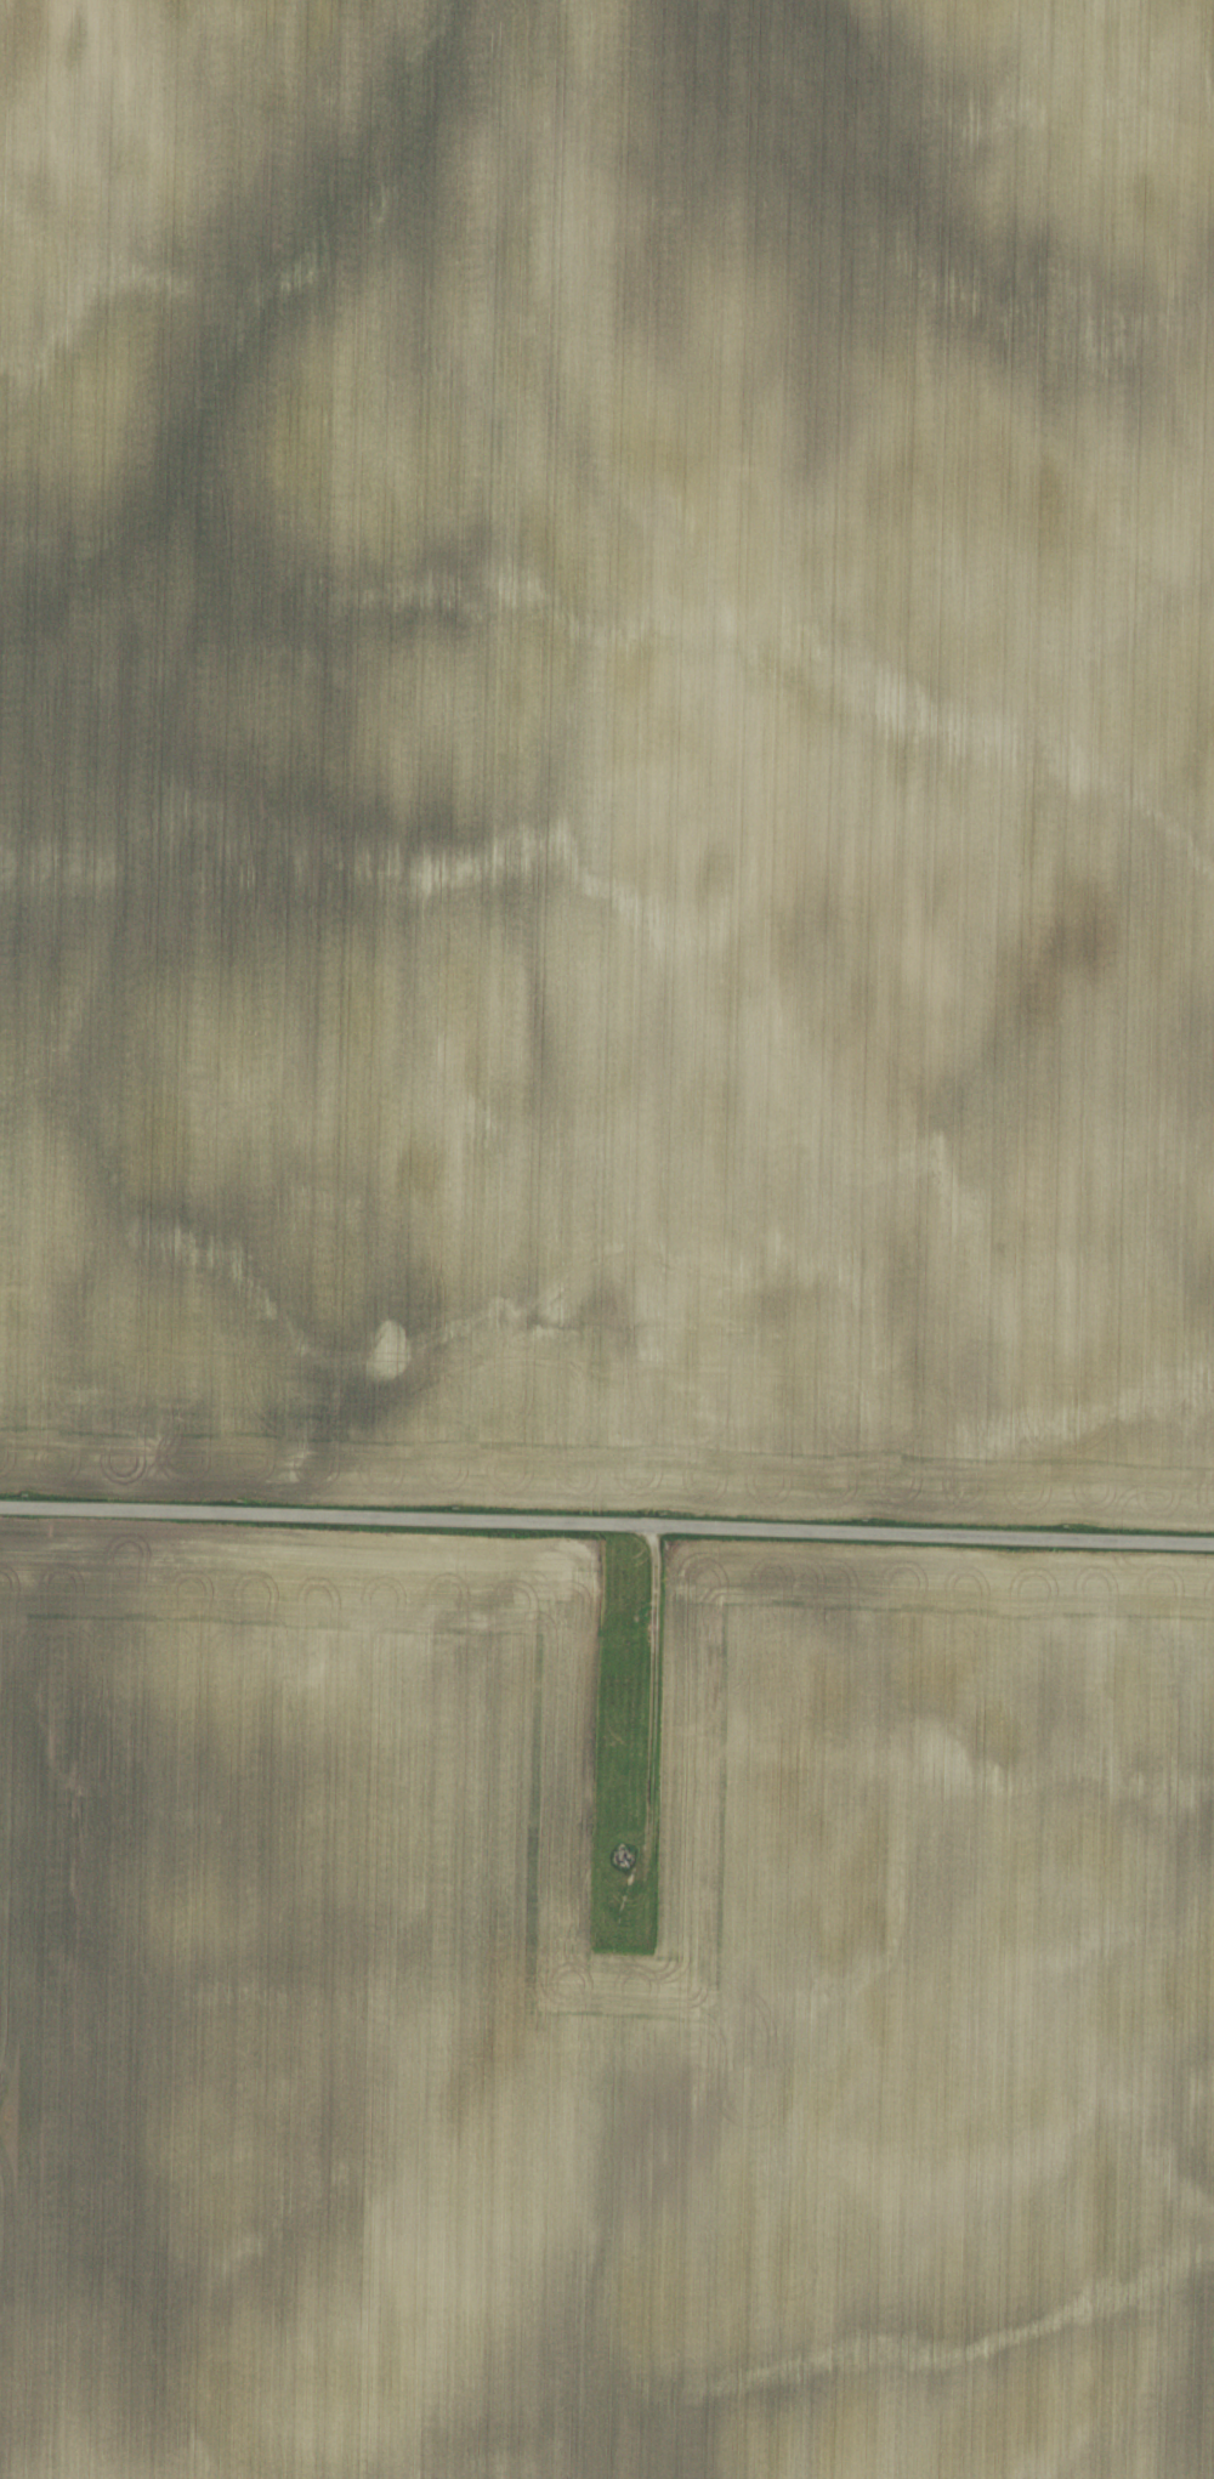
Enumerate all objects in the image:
road: (607, 1520)

